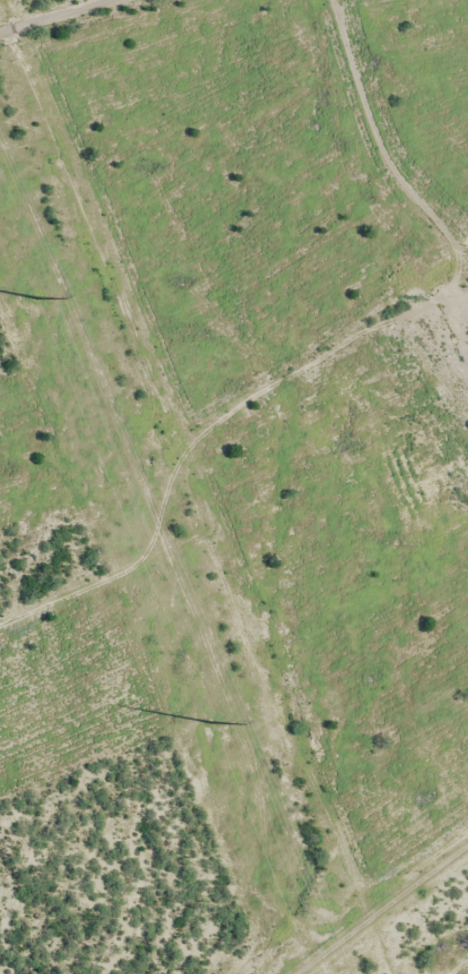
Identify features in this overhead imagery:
road: (6, 32)
road: (79, 34)
power tower: (59, 162)
power tower: (35, 296)
power tower: (167, 429)
power tower: (277, 693)
power tower: (209, 721)

